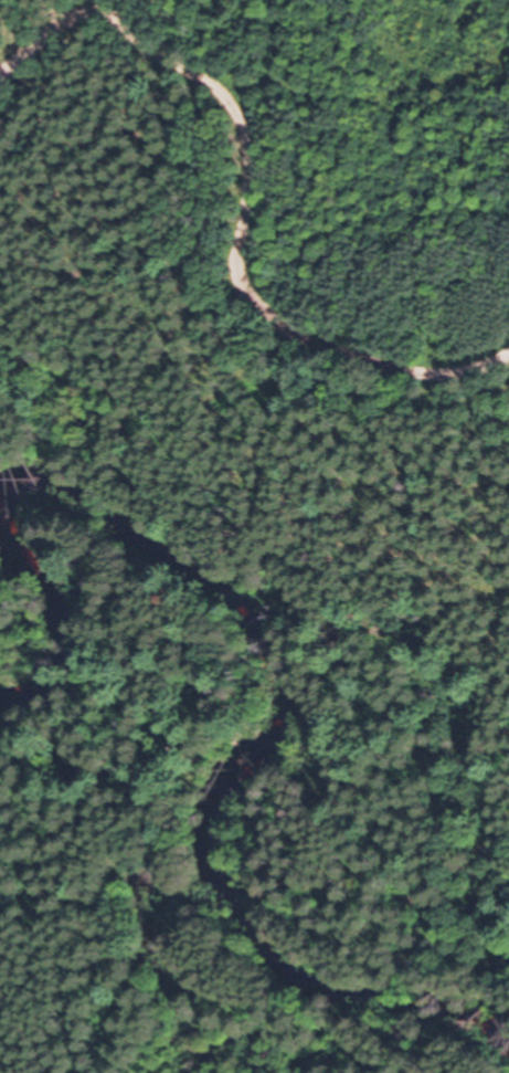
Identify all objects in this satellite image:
road: (254, 499)

